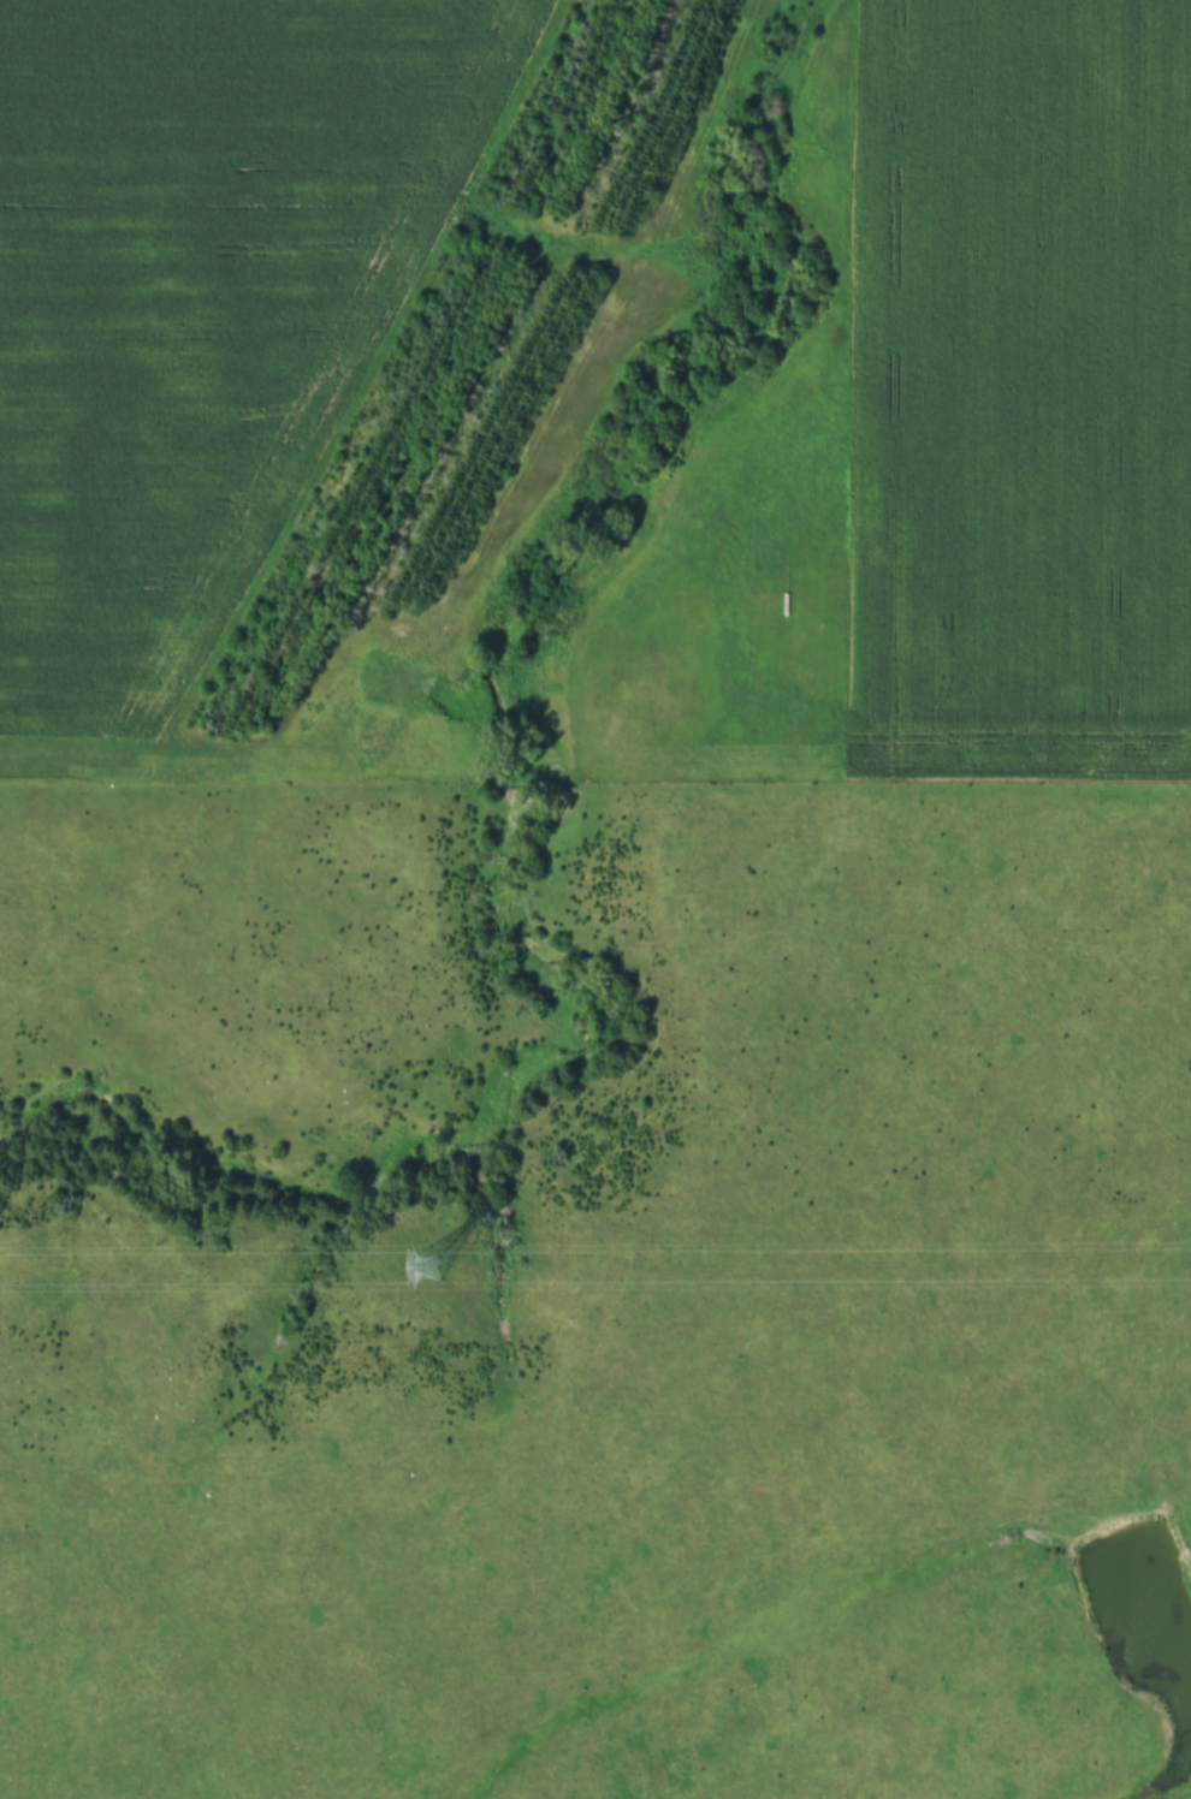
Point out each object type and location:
power tower: (433, 1269)

